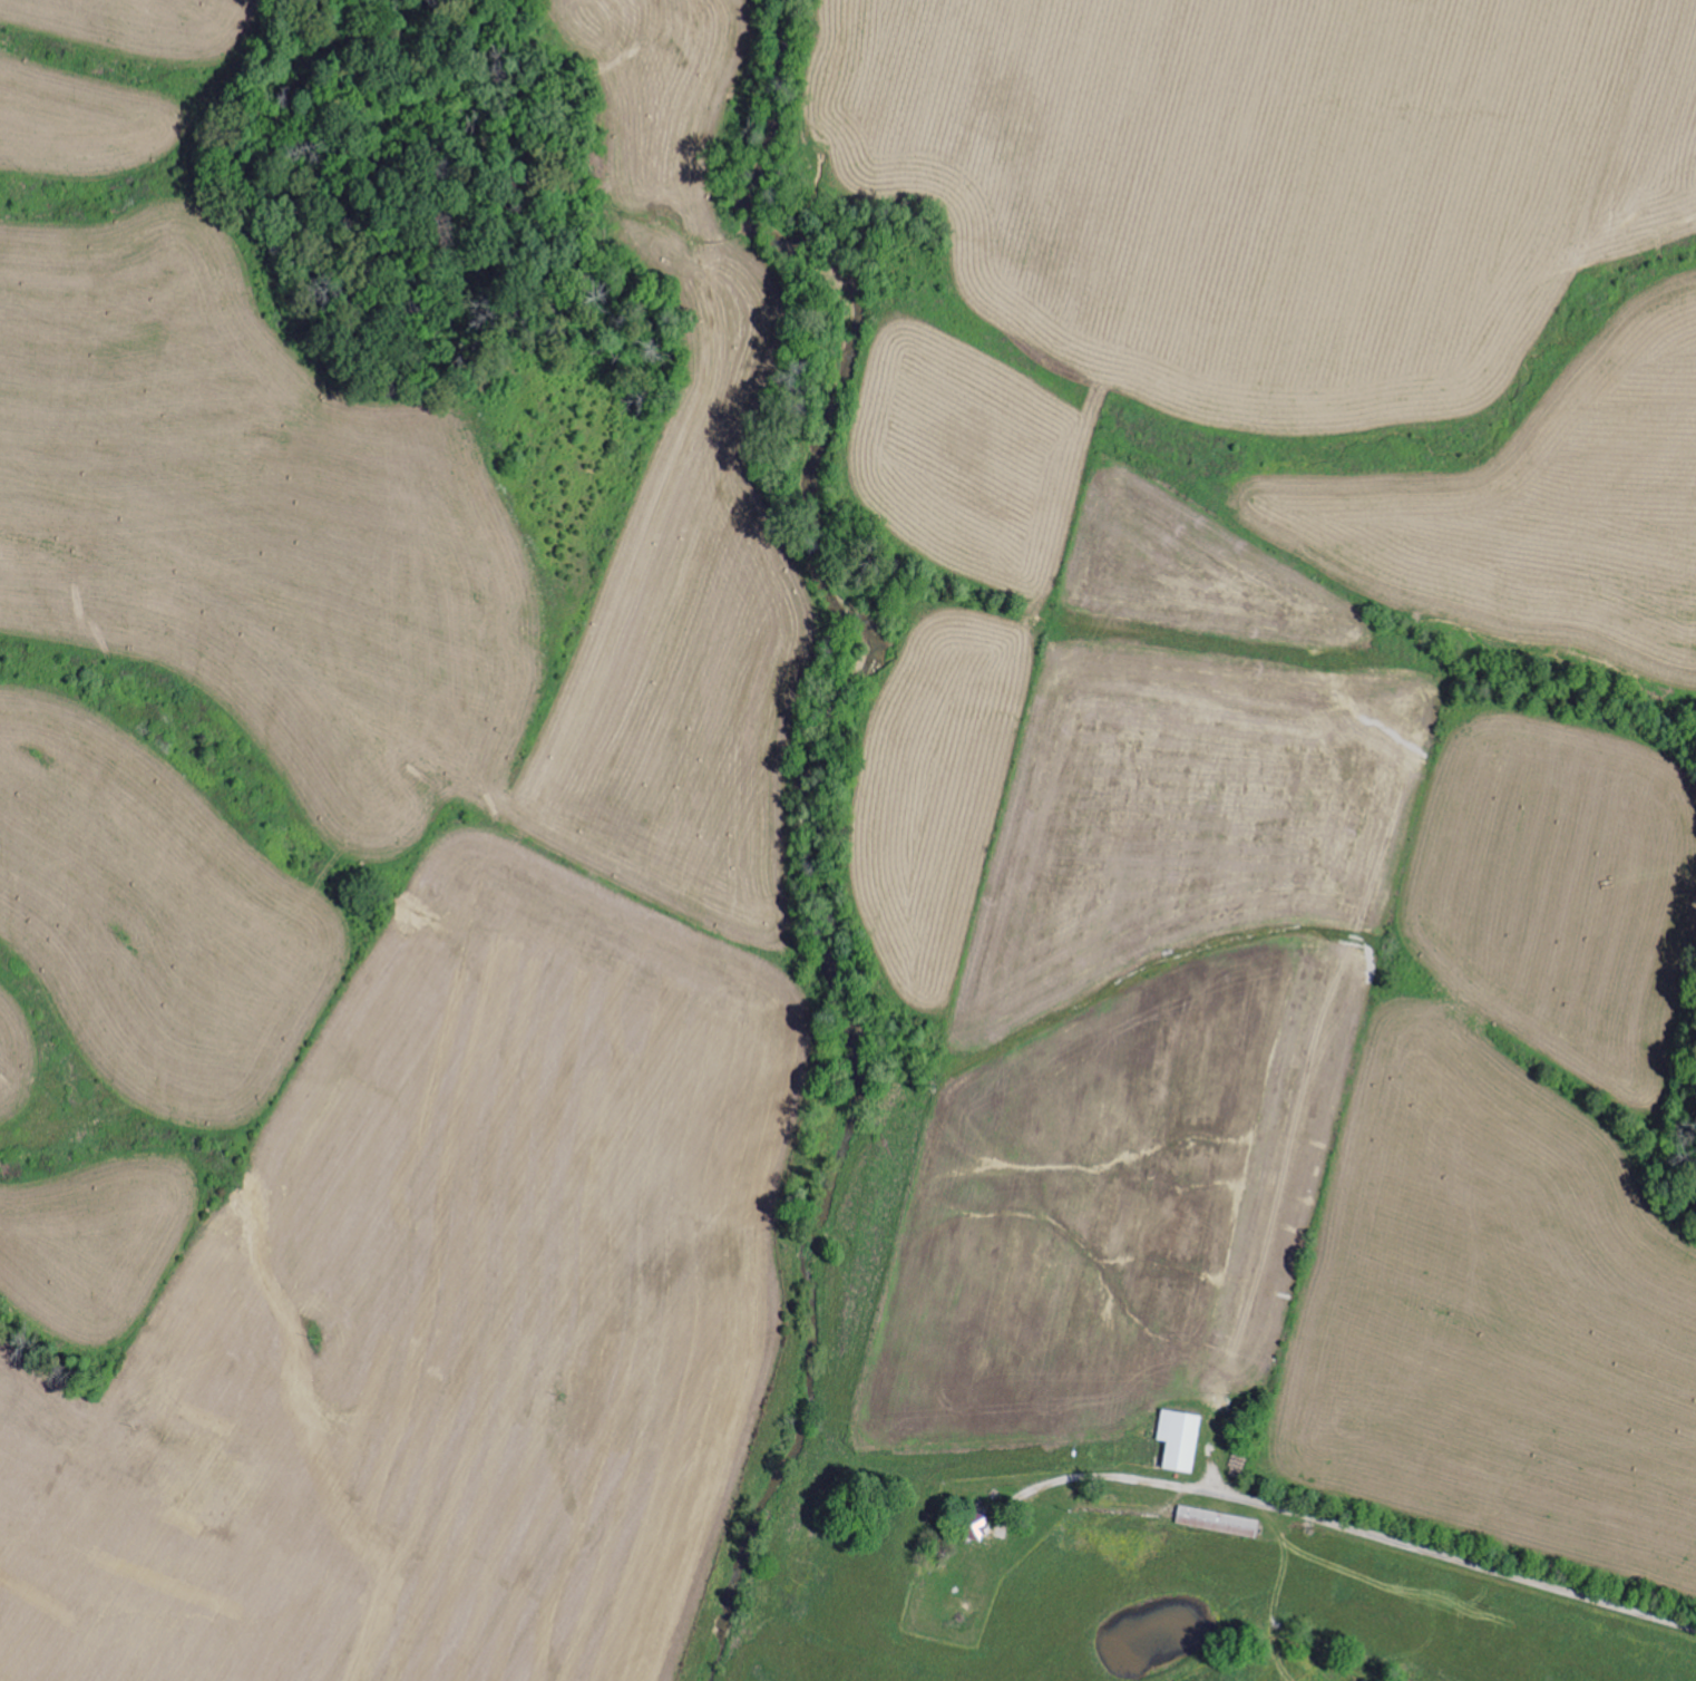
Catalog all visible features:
building: (1181, 1438)
road: (1089, 1476)
building: (1219, 1520)
road: (1451, 1557)

